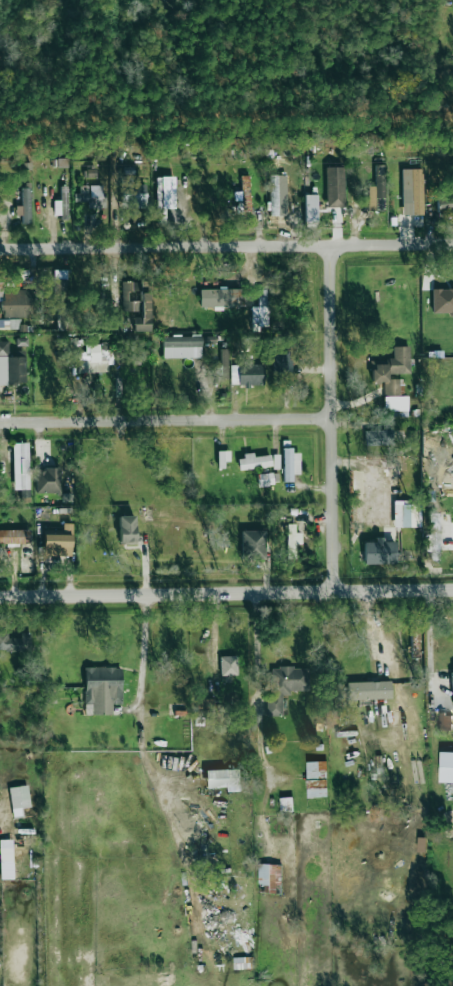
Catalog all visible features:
building: (335, 187)
building: (377, 190)
building: (412, 191)
building: (132, 193)
building: (244, 193)
building: (278, 195)
building: (91, 196)
building: (163, 199)
building: (60, 203)
building: (25, 206)
building: (310, 207)
road: (226, 245)
building: (60, 285)
building: (219, 297)
building: (442, 300)
building: (136, 305)
building: (260, 310)
building: (181, 347)
building: (95, 358)
building: (223, 363)
building: (281, 363)
building: (11, 365)
road: (336, 381)
building: (393, 381)
road: (169, 419)
building: (379, 437)
building: (222, 459)
building: (253, 461)
building: (275, 461)
building: (290, 464)
building: (20, 466)
building: (264, 479)
building: (48, 480)
building: (406, 515)
building: (126, 529)
building: (14, 536)
building: (432, 537)
building: (292, 540)
building: (253, 544)
building: (57, 545)
building: (379, 552)
road: (226, 592)
building: (14, 643)
road: (385, 653)
building: (228, 665)
building: (285, 687)
building: (102, 689)
building: (369, 689)
building: (445, 722)
road: (143, 763)
building: (446, 767)
building: (223, 779)
building: (316, 779)
building: (19, 798)
building: (6, 859)
building: (270, 878)

